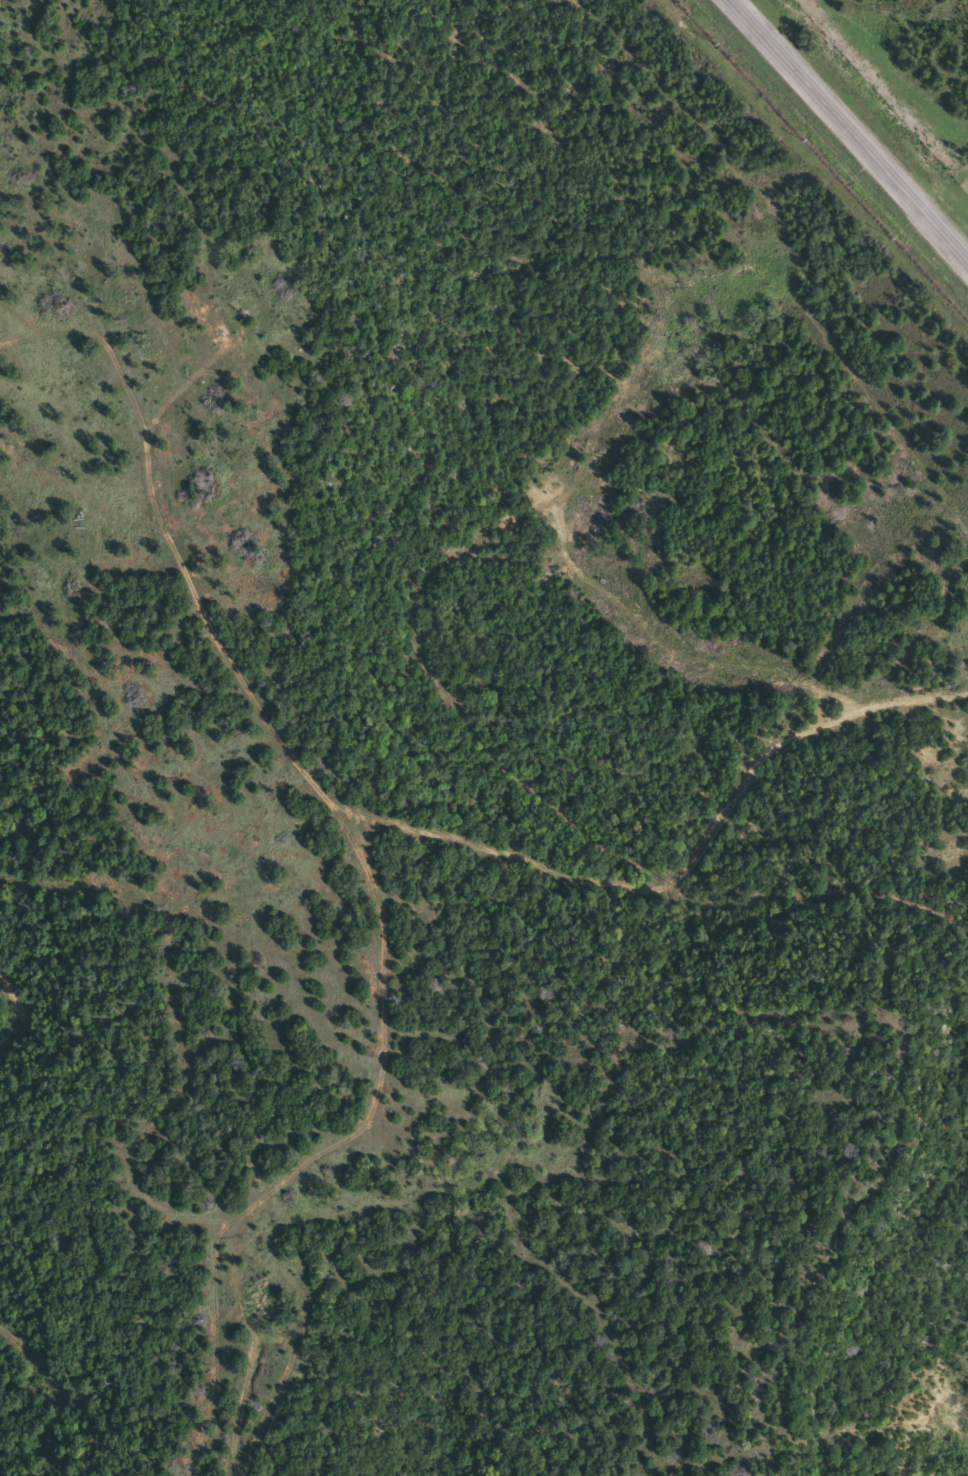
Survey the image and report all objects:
road: (842, 134)

